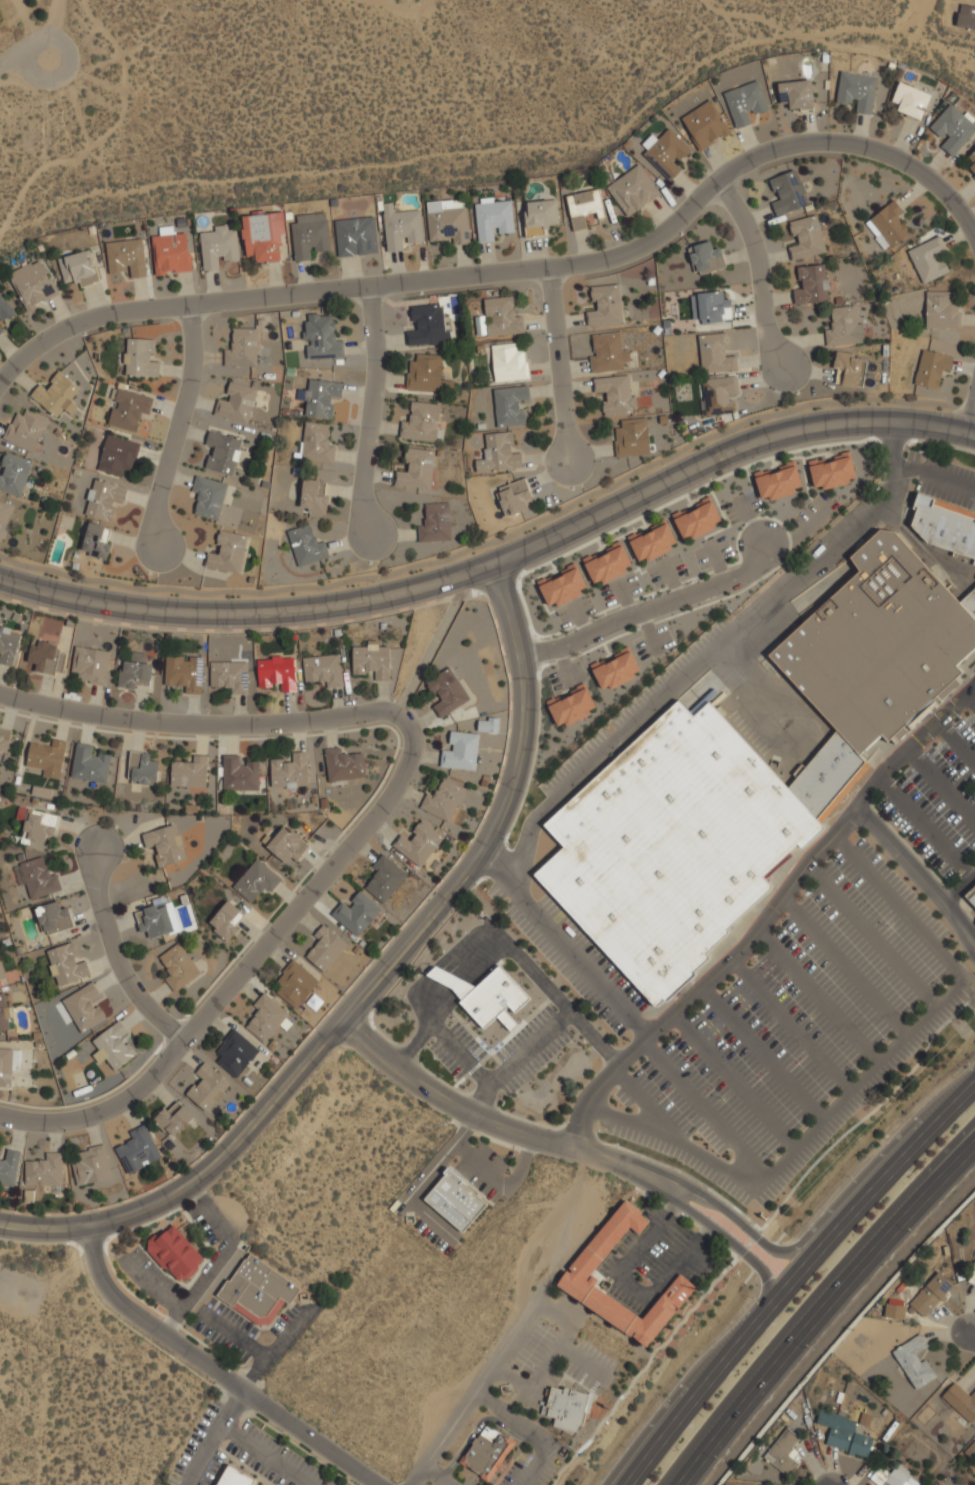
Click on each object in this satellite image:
building: (966, 16)
park: (1, 22)
road: (6, 58)
road: (24, 66)
park: (59, 82)
building: (856, 91)
building: (796, 94)
building: (910, 100)
building: (745, 103)
building: (704, 125)
building: (953, 129)
building: (665, 152)
building: (971, 160)
building: (633, 190)
building: (788, 192)
building: (583, 207)
building: (539, 216)
building: (493, 219)
building: (447, 221)
building: (887, 225)
building: (401, 227)
building: (309, 235)
building: (263, 236)
building: (356, 236)
building: (805, 238)
building: (218, 247)
building: (170, 253)
building: (126, 257)
building: (704, 258)
building: (927, 260)
building: (78, 268)
road: (513, 270)
road: (758, 271)
building: (32, 284)
building: (811, 285)
building: (604, 306)
building: (712, 308)
building: (4, 309)
building: (940, 311)
building: (498, 318)
building: (428, 326)
building: (843, 327)
building: (1, 330)
building: (320, 338)
building: (242, 348)
building: (607, 353)
building: (714, 354)
building: (140, 358)
building: (508, 363)
road: (558, 364)
building: (930, 368)
building: (847, 369)
building: (424, 373)
building: (617, 393)
building: (56, 395)
building: (718, 395)
building: (320, 398)
building: (236, 403)
building: (508, 405)
building: (127, 410)
street lamp: (941, 410)
road: (370, 412)
road: (970, 415)
building: (421, 424)
road: (176, 427)
building: (25, 430)
building: (630, 438)
building: (316, 443)
street lamp: (921, 451)
building: (222, 452)
building: (497, 454)
building: (117, 455)
building: (415, 470)
building: (831, 471)
building: (14, 475)
road: (937, 476)
building: (777, 482)
parking lot: (944, 495)
building: (313, 496)
building: (207, 497)
building: (513, 497)
building: (102, 499)
parking lot: (753, 502)
parking lot: (809, 510)
parking lot: (730, 514)
building: (4, 515)
building: (696, 519)
road: (748, 520)
building: (434, 524)
building: (944, 525)
road: (801, 532)
building: (651, 541)
building: (95, 542)
building: (305, 546)
parking lot: (723, 547)
building: (227, 553)
parking lot: (700, 558)
road: (498, 561)
building: (607, 563)
road: (715, 563)
parking lot: (677, 564)
parking lot: (654, 576)
road: (669, 578)
parking lot: (631, 583)
building: (561, 586)
parking lot: (608, 595)
road: (622, 598)
parking lot: (586, 605)
road: (650, 608)
parking lot: (562, 616)
road: (578, 619)
road: (648, 633)
parking lot: (664, 637)
building: (8, 646)
road: (712, 648)
parking lot: (641, 649)
street lamp: (670, 650)
building: (43, 655)
building: (371, 659)
building: (90, 664)
road: (563, 668)
building: (323, 669)
building: (614, 669)
building: (136, 672)
building: (184, 672)
building: (278, 672)
parking lot: (578, 672)
parking lot: (668, 673)
building: (229, 675)
parking lot: (555, 682)
building: (446, 692)
building: (570, 706)
street lamp: (959, 717)
building: (488, 725)
building: (6, 741)
building: (459, 752)
building: (45, 758)
parking lot: (573, 761)
building: (88, 764)
building: (342, 765)
building: (141, 769)
street lamp: (899, 771)
building: (289, 772)
building: (189, 773)
building: (239, 774)
building: (749, 774)
road: (941, 782)
building: (442, 801)
road: (378, 812)
building: (38, 826)
building: (418, 843)
building: (164, 844)
building: (287, 845)
street lamp: (824, 862)
road: (920, 876)
building: (37, 878)
building: (384, 879)
building: (255, 880)
road: (959, 891)
building: (971, 895)
building: (357, 913)
road: (768, 916)
building: (52, 918)
building: (157, 920)
building: (224, 921)
street lamp: (889, 927)
street lamp: (463, 930)
road: (562, 944)
building: (326, 947)
street lamp: (441, 952)
parking lot: (592, 955)
road: (122, 957)
street lamp: (752, 957)
road: (468, 960)
building: (65, 966)
street lamp: (549, 966)
building: (178, 967)
parking lot: (563, 968)
building: (1, 974)
street lamp: (418, 974)
street lamp: (549, 977)
building: (294, 984)
road: (375, 984)
street lamp: (943, 986)
building: (485, 996)
building: (84, 1008)
building: (3, 1015)
street lamp: (449, 1016)
building: (267, 1018)
street lamp: (809, 1018)
street lamp: (520, 1020)
street lamp: (468, 1025)
street lamp: (670, 1032)
parking lot: (796, 1032)
parking lot: (524, 1033)
road: (594, 1039)
street lamp: (571, 1041)
parking lot: (467, 1042)
building: (111, 1046)
street lamp: (489, 1049)
building: (234, 1053)
street lamp: (433, 1059)
parking lot: (446, 1060)
parking lot: (536, 1062)
building: (8, 1064)
street lamp: (542, 1067)
street lamp: (857, 1071)
road: (498, 1075)
street lamp: (453, 1081)
building: (207, 1087)
street lamp: (513, 1093)
street lamp: (720, 1098)
building: (171, 1119)
road: (494, 1124)
building: (137, 1150)
road: (878, 1153)
parking lot: (490, 1156)
street lamp: (503, 1157)
street lamp: (774, 1158)
street lamp: (455, 1159)
building: (89, 1165)
road: (435, 1165)
building: (9, 1168)
building: (44, 1171)
parking lot: (476, 1181)
road: (500, 1182)
road: (873, 1194)
building: (455, 1201)
street lamp: (97, 1209)
road: (734, 1216)
street lamp: (901, 1224)
parking lot: (202, 1225)
street lamp: (415, 1233)
road: (725, 1235)
parking lot: (432, 1236)
street lamp: (435, 1249)
building: (174, 1253)
parking lot: (140, 1260)
road: (217, 1260)
road: (831, 1272)
building: (972, 1276)
building: (584, 1277)
parking lot: (168, 1286)
road: (147, 1287)
building: (256, 1291)
power tower: (702, 1291)
building: (930, 1295)
parking lot: (315, 1301)
parking lot: (210, 1303)
road: (814, 1303)
parking lot: (569, 1309)
building: (894, 1312)
parking lot: (234, 1320)
parking lot: (283, 1320)
street lamp: (549, 1325)
road: (231, 1334)
road: (971, 1337)
parking lot: (218, 1341)
street lamp: (795, 1342)
road: (275, 1348)
parking lot: (534, 1348)
parking lot: (597, 1356)
building: (913, 1361)
road: (212, 1369)
street lamp: (517, 1371)
parking lot: (581, 1376)
street lamp: (211, 1383)
street lamp: (604, 1390)
road: (702, 1392)
road: (475, 1393)
parking lot: (523, 1402)
building: (960, 1404)
building: (569, 1407)
street lamp: (486, 1413)
street lamp: (253, 1423)
building: (843, 1435)
road: (213, 1437)
parking lot: (193, 1443)
building: (486, 1453)
building: (782, 1453)
parking lot: (285, 1454)
road: (263, 1455)
street lamp: (701, 1458)
street lamp: (441, 1464)
parking lot: (255, 1465)
parking lot: (210, 1468)
road: (437, 1475)
building: (892, 1477)
building: (233, 1478)

